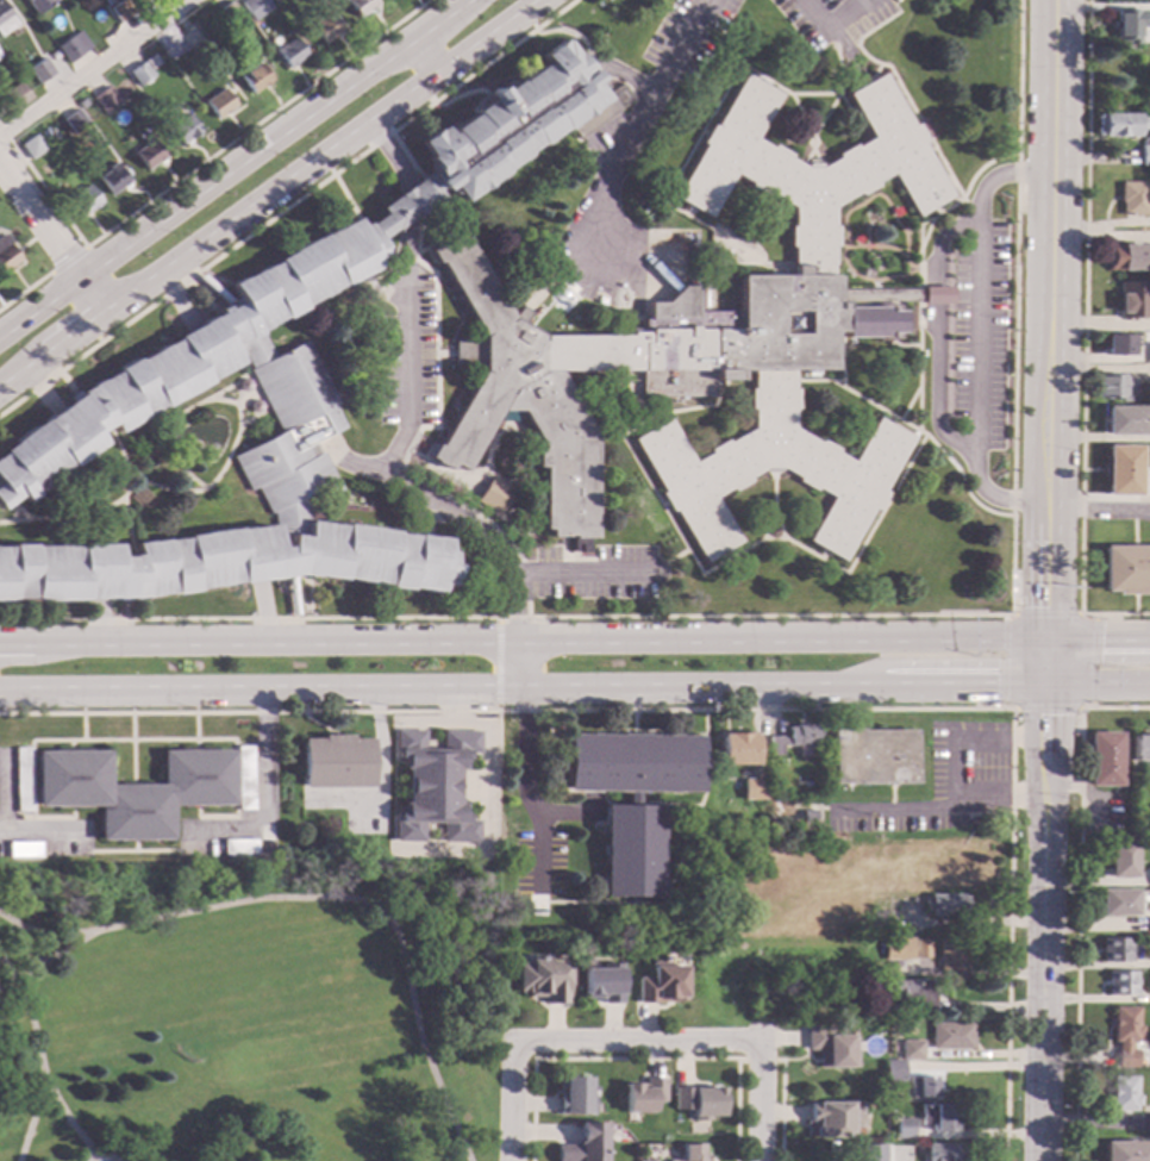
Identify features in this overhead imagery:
building: (38, 5)
building: (358, 5)
building: (254, 7)
building: (119, 11)
building: (229, 12)
parking lot: (830, 18)
building: (5, 19)
road: (858, 19)
building: (1126, 25)
building: (324, 27)
road: (826, 29)
road: (845, 30)
building: (110, 33)
road: (570, 33)
parking lot: (686, 35)
building: (190, 38)
building: (71, 46)
building: (287, 51)
road: (845, 52)
road: (425, 55)
road: (93, 67)
road: (874, 68)
building: (143, 69)
building: (39, 70)
road: (620, 71)
building: (254, 77)
road: (469, 88)
road: (830, 92)
road: (900, 92)
building: (15, 95)
building: (105, 99)
building: (80, 102)
building: (218, 104)
road: (713, 104)
building: (74, 121)
building: (1119, 124)
building: (181, 129)
road: (610, 137)
road: (811, 141)
building: (31, 146)
road: (811, 148)
road: (621, 149)
road: (390, 151)
building: (1144, 152)
building: (146, 154)
road: (196, 166)
road: (235, 168)
road: (999, 173)
building: (113, 179)
road: (267, 192)
road: (346, 199)
building: (1131, 199)
building: (82, 200)
road: (411, 200)
road: (287, 205)
road: (968, 207)
road: (842, 212)
road: (911, 227)
road: (919, 230)
road: (51, 237)
road: (749, 238)
road: (851, 238)
road: (850, 244)
road: (865, 244)
road: (889, 245)
road: (1050, 252)
building: (6, 256)
building: (1127, 257)
parking lot: (620, 258)
road: (68, 260)
road: (918, 266)
road: (558, 271)
road: (210, 287)
road: (380, 288)
road: (25, 291)
road: (202, 294)
road: (905, 294)
building: (875, 295)
building: (935, 295)
road: (176, 297)
building: (1131, 299)
road: (74, 306)
road: (1015, 307)
building: (871, 319)
building: (776, 322)
road: (937, 332)
road: (974, 332)
parking lot: (980, 332)
road: (1083, 342)
road: (904, 343)
building: (1118, 345)
building: (1148, 351)
parking lot: (407, 352)
road: (840, 358)
road: (835, 380)
road: (65, 382)
road: (227, 383)
road: (39, 388)
building: (1114, 388)
building: (529, 391)
road: (254, 392)
building: (275, 392)
road: (244, 395)
road: (908, 401)
road: (436, 404)
road: (676, 408)
road: (251, 414)
road: (511, 418)
building: (1126, 422)
road: (913, 426)
road: (171, 436)
fountain: (211, 447)
road: (427, 448)
building: (185, 456)
road: (349, 461)
road: (181, 469)
road: (217, 470)
building: (1121, 470)
road: (185, 481)
road: (507, 482)
road: (513, 485)
building: (137, 495)
building: (494, 495)
road: (771, 497)
road: (993, 498)
road: (658, 500)
road: (1098, 507)
road: (17, 508)
road: (535, 508)
road: (11, 512)
road: (74, 512)
road: (424, 517)
road: (126, 525)
road: (481, 531)
road: (765, 535)
road: (865, 535)
road: (574, 557)
road: (667, 560)
road: (485, 569)
parking lot: (596, 569)
building: (1126, 569)
road: (581, 572)
road: (288, 578)
road: (1045, 586)
road: (290, 594)
road: (306, 600)
road: (124, 608)
road: (264, 614)
road: (1046, 614)
road: (506, 617)
road: (99, 624)
traffic signals: (1045, 644)
road: (575, 647)
road: (1004, 661)
road: (1092, 661)
road: (495, 663)
road: (575, 689)
traffic signals: (1044, 689)
road: (455, 705)
building: (989, 705)
building: (476, 707)
road: (731, 710)
road: (1045, 710)
road: (81, 726)
road: (194, 726)
building: (792, 738)
road: (965, 739)
road: (130, 741)
building: (1139, 748)
road: (132, 749)
building: (737, 750)
building: (870, 757)
building: (1102, 760)
building: (336, 763)
road: (379, 774)
building: (244, 779)
building: (21, 780)
road: (485, 785)
parking lot: (940, 785)
building: (433, 786)
building: (135, 791)
road: (262, 791)
building: (752, 791)
road: (2, 792)
building: (631, 799)
road: (667, 804)
road: (937, 807)
road: (569, 817)
building: (806, 817)
road: (42, 829)
building: (238, 847)
building: (23, 850)
building: (1123, 860)
road: (670, 873)
building: (1149, 874)
road: (1077, 899)
building: (1118, 904)
road: (221, 905)
building: (944, 905)
road: (1042, 913)
building: (877, 922)
building: (1149, 925)
road: (40, 931)
building: (895, 948)
building: (921, 949)
building: (1114, 950)
building: (952, 955)
road: (11, 973)
building: (543, 981)
building: (602, 982)
building: (662, 982)
building: (1120, 984)
building: (911, 994)
building: (807, 999)
building: (877, 1010)
park: (251, 1011)
building: (1125, 1035)
building: (951, 1036)
road: (632, 1041)
building: (830, 1047)
building: (912, 1050)
road: (633, 1059)
road: (757, 1059)
building: (893, 1074)
building: (921, 1087)
road: (758, 1092)
building: (643, 1094)
building: (1123, 1094)
building: (571, 1098)
building: (699, 1101)
road: (511, 1106)
road: (780, 1110)
building: (910, 1115)
building: (938, 1117)
road: (30, 1119)
building: (829, 1119)
building: (1148, 1123)
building: (902, 1126)
building: (583, 1144)
building: (871, 1151)
building: (1126, 1151)
building: (692, 1153)
building: (942, 1153)
road: (89, 1156)
building: (652, 1160)

